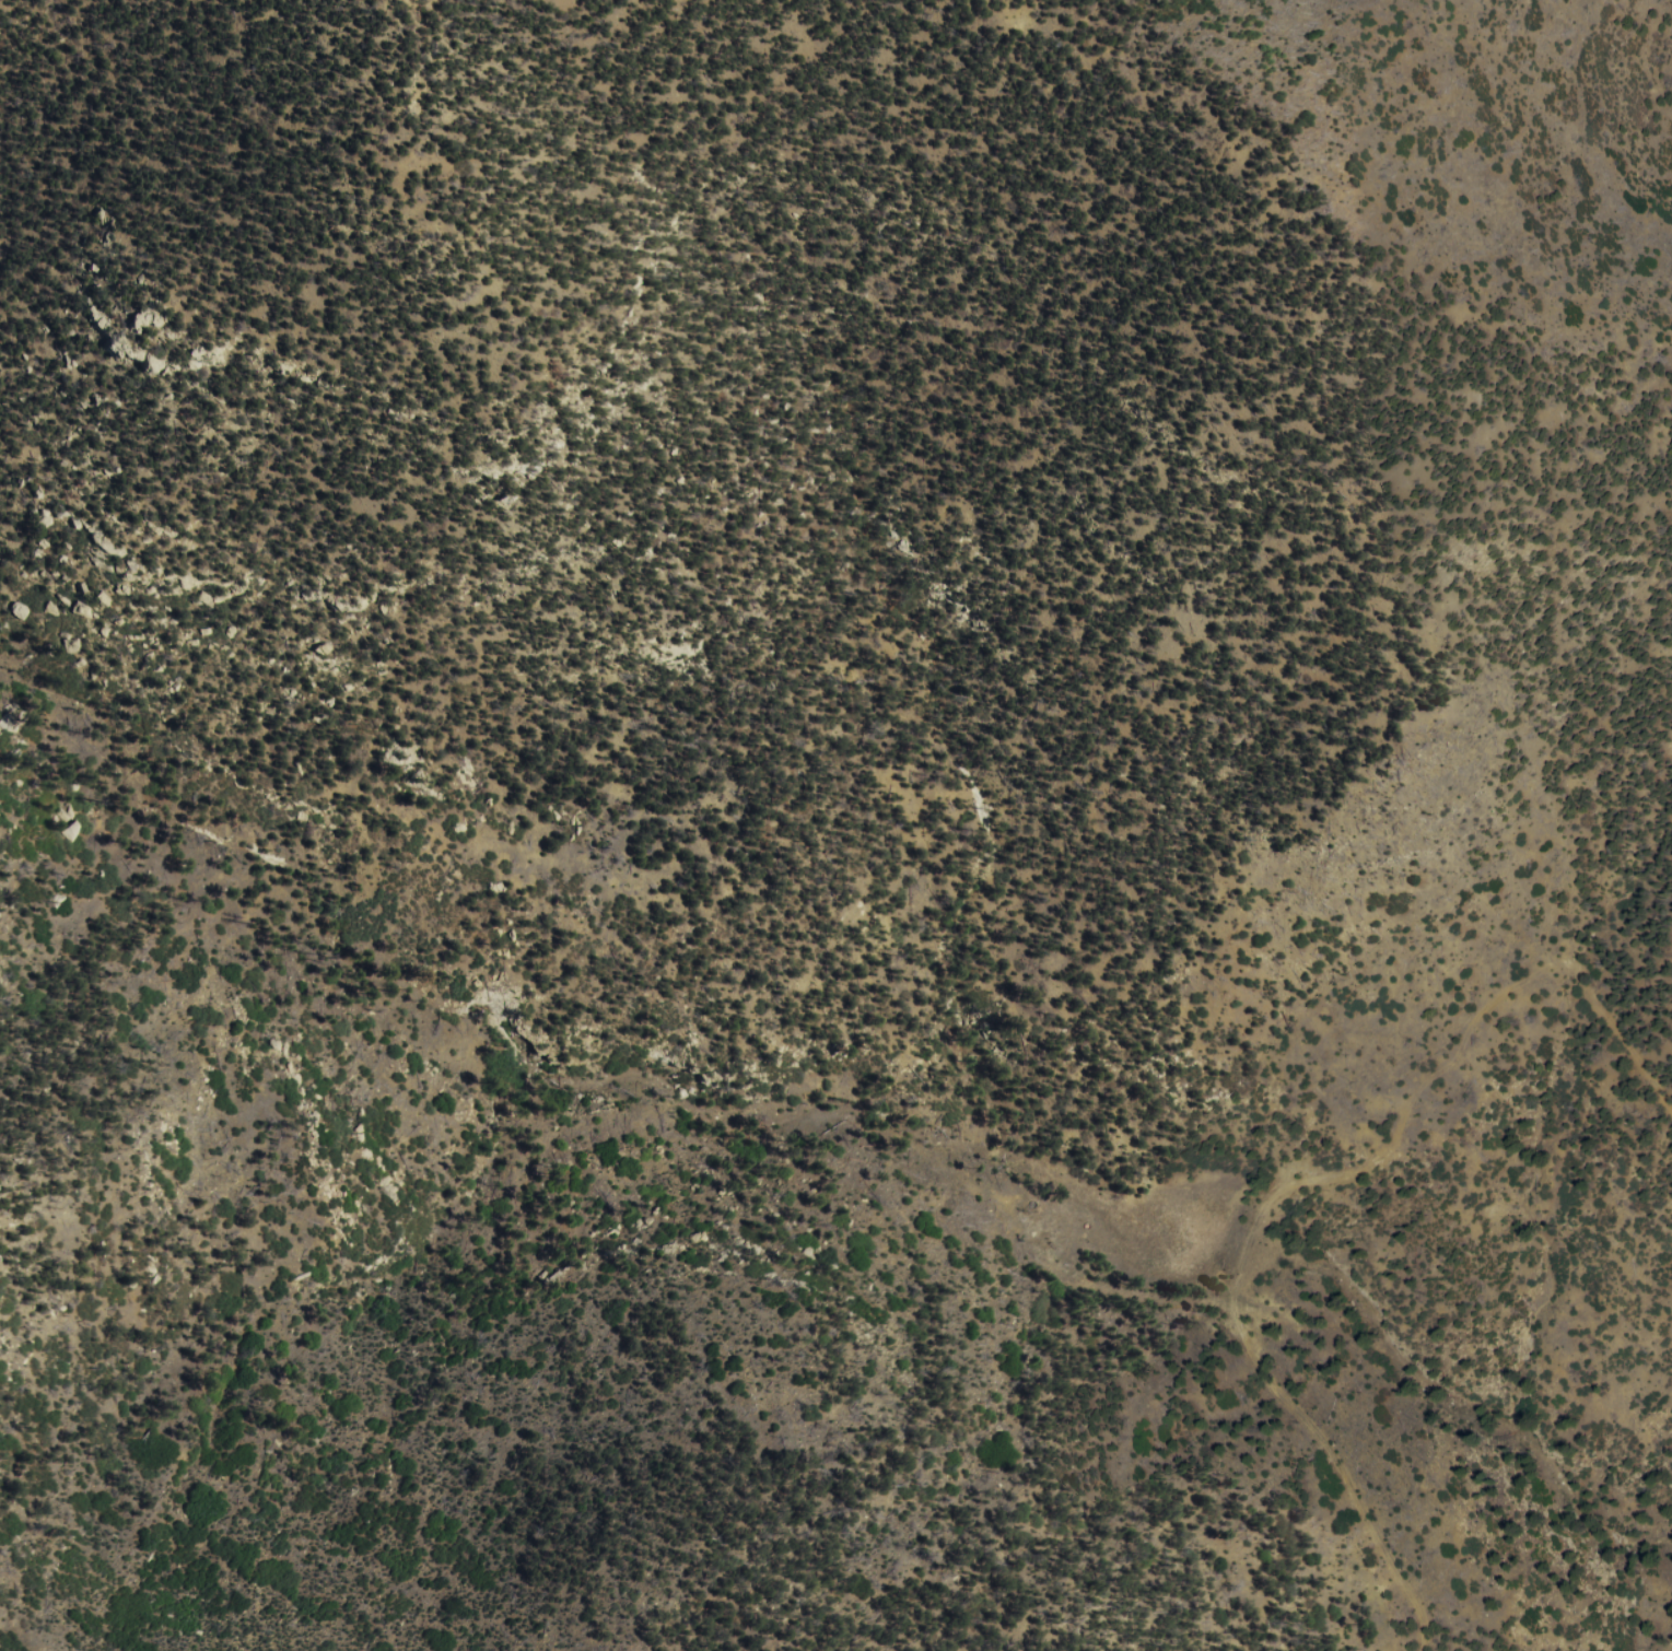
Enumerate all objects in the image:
road: (1299, 1183)

